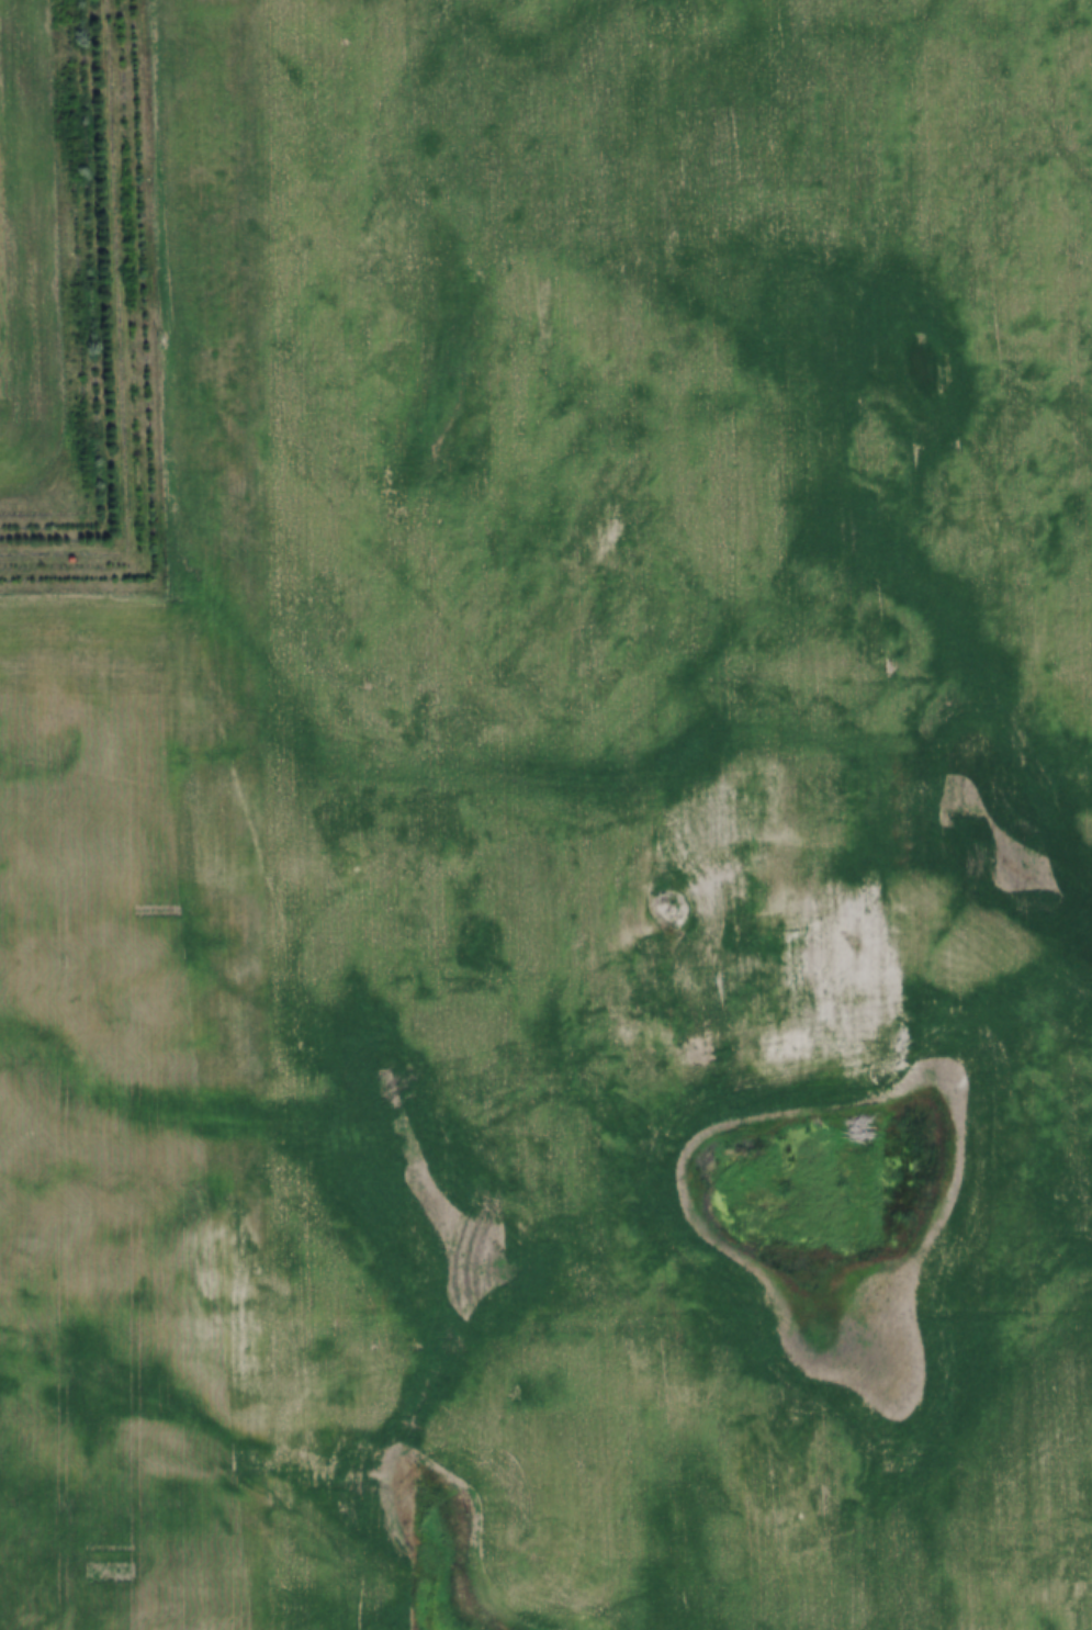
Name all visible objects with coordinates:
road: (909, 1305)

